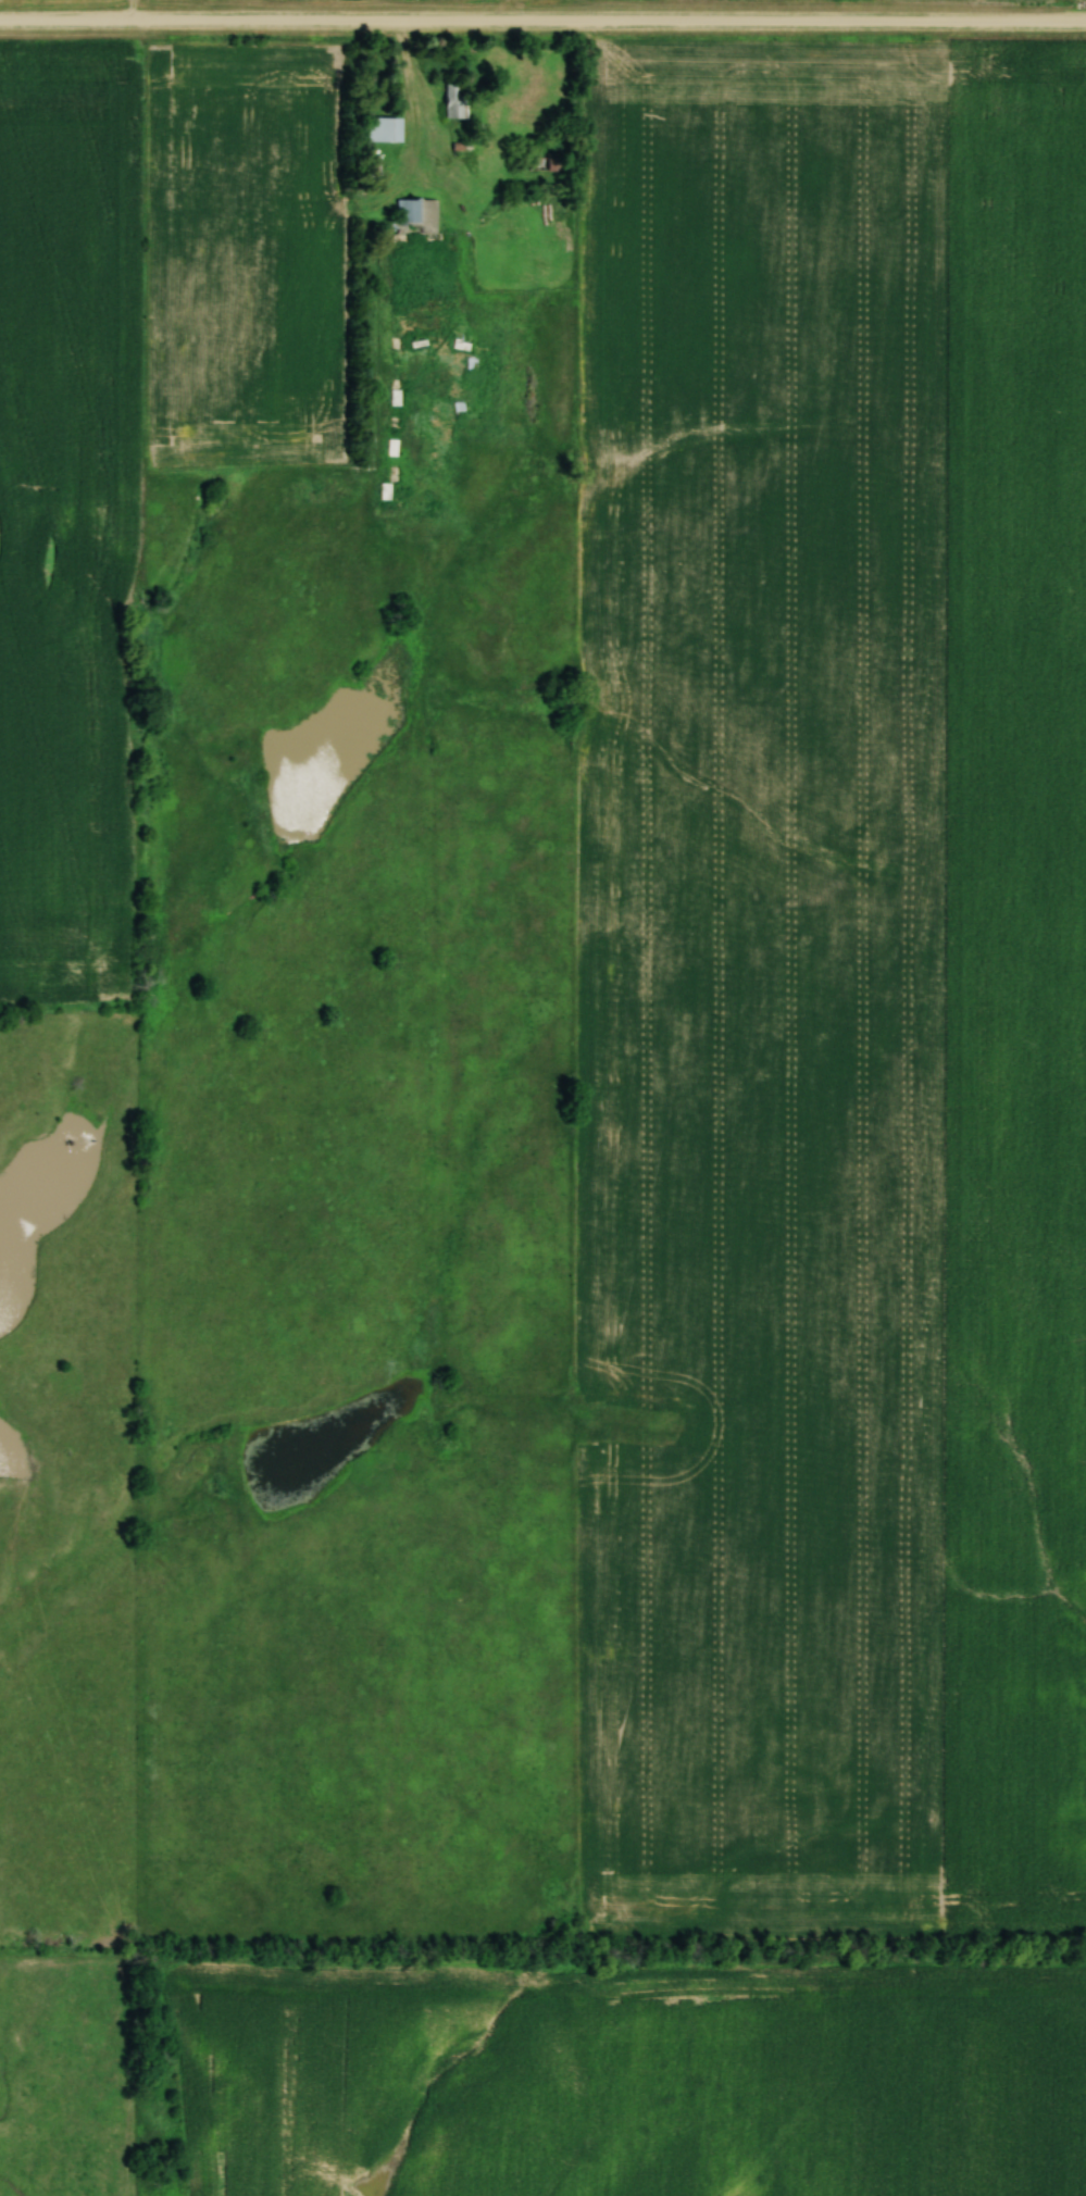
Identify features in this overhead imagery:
road: (542, 24)
building: (457, 101)
road: (407, 102)
building: (387, 128)
building: (419, 214)

